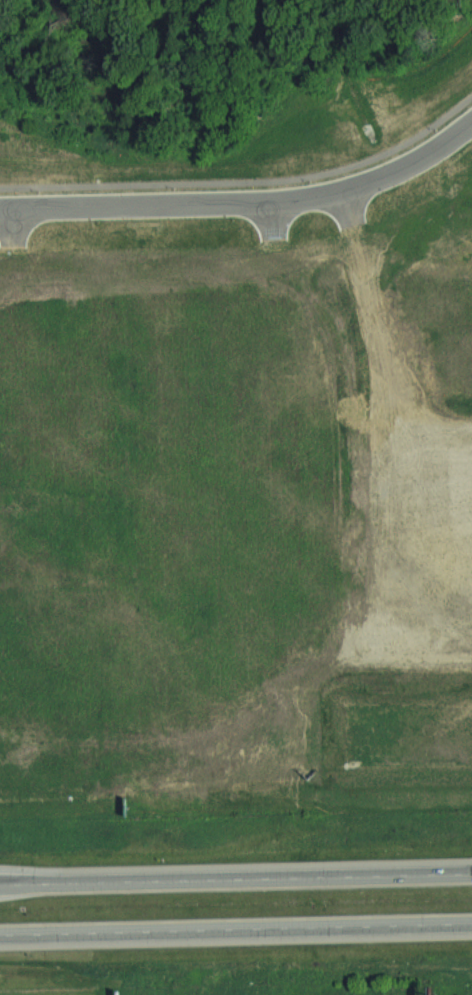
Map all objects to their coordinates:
road: (245, 201)
road: (236, 876)
road: (248, 926)
road: (12, 932)

